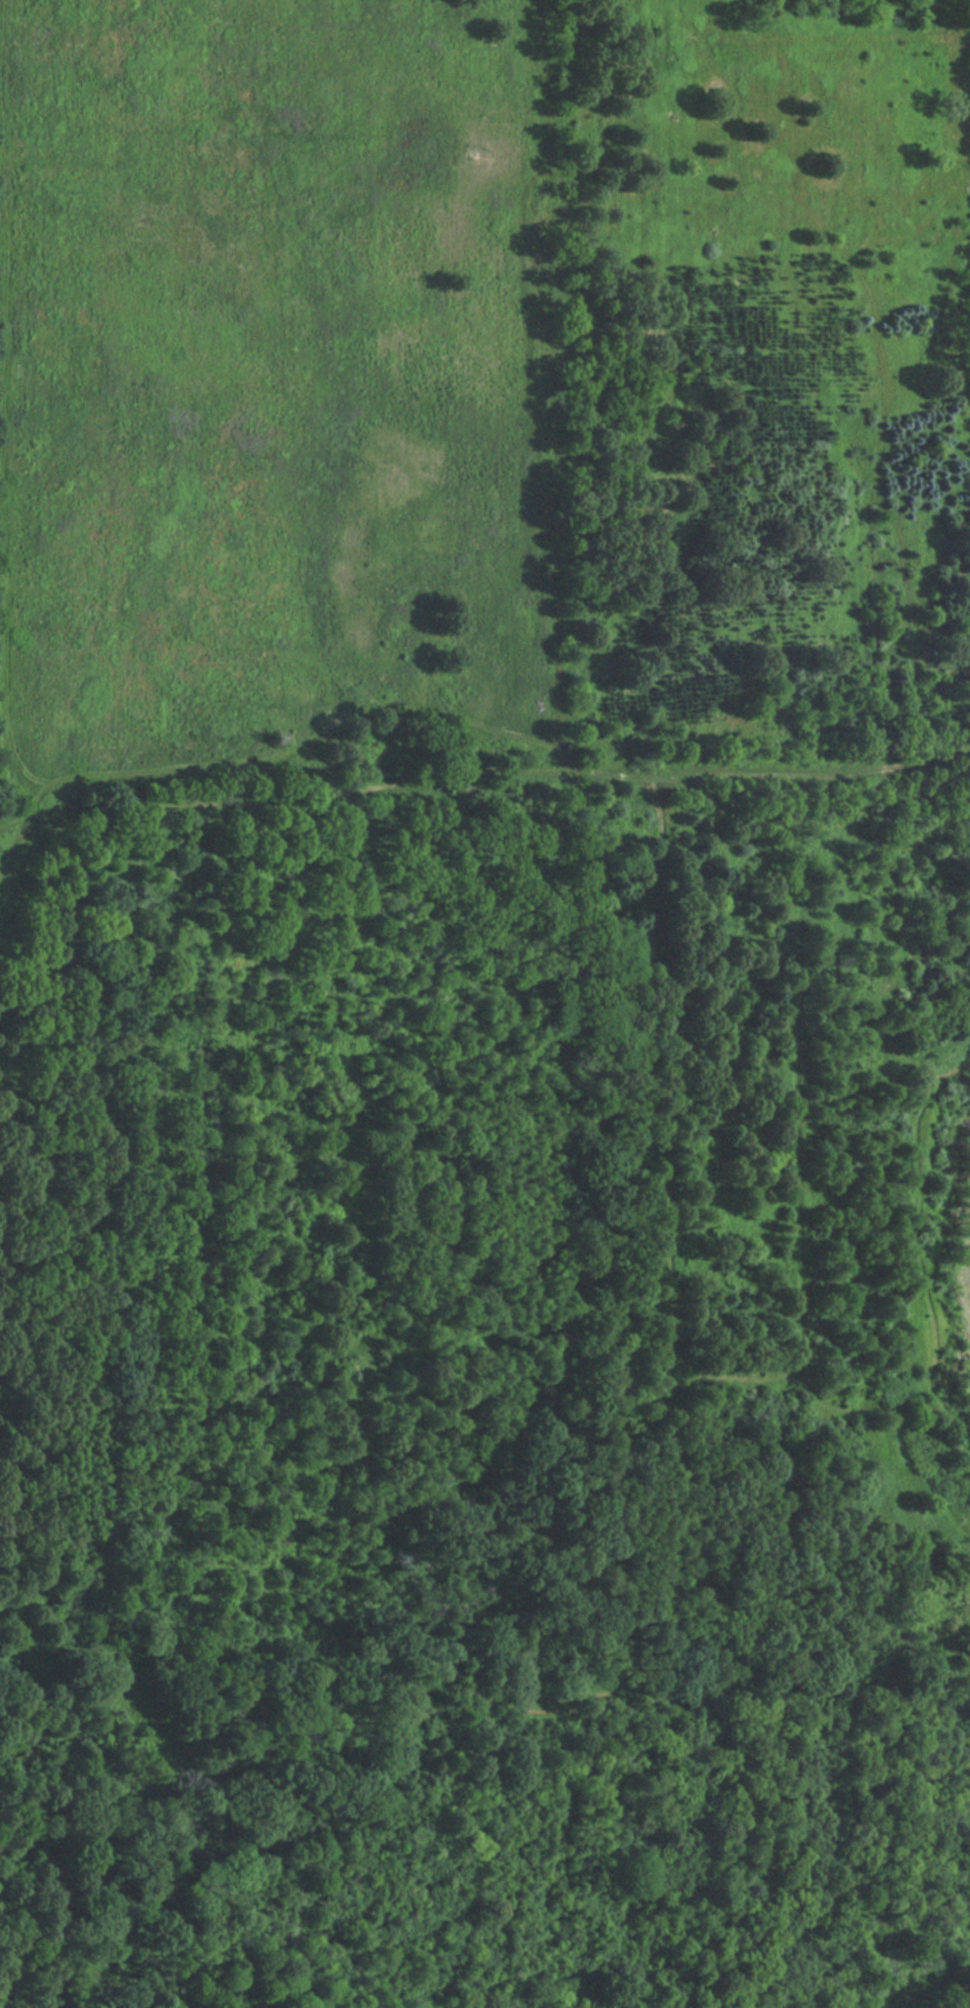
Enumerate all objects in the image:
crop: (274, 380)
road: (483, 768)

